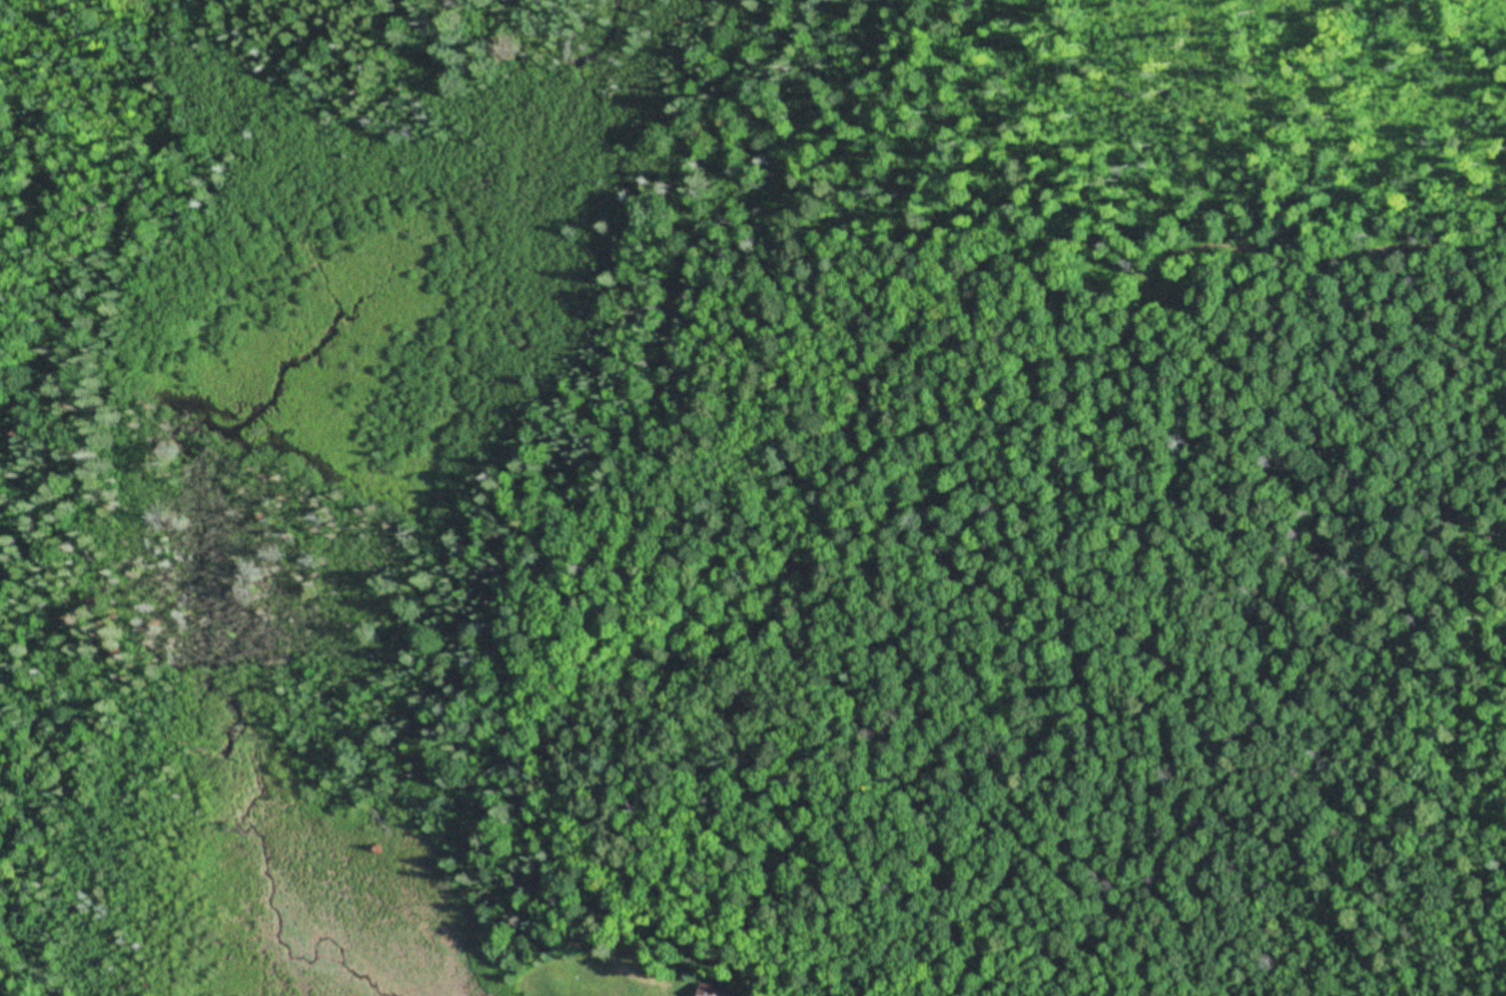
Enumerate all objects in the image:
building: (711, 989)

